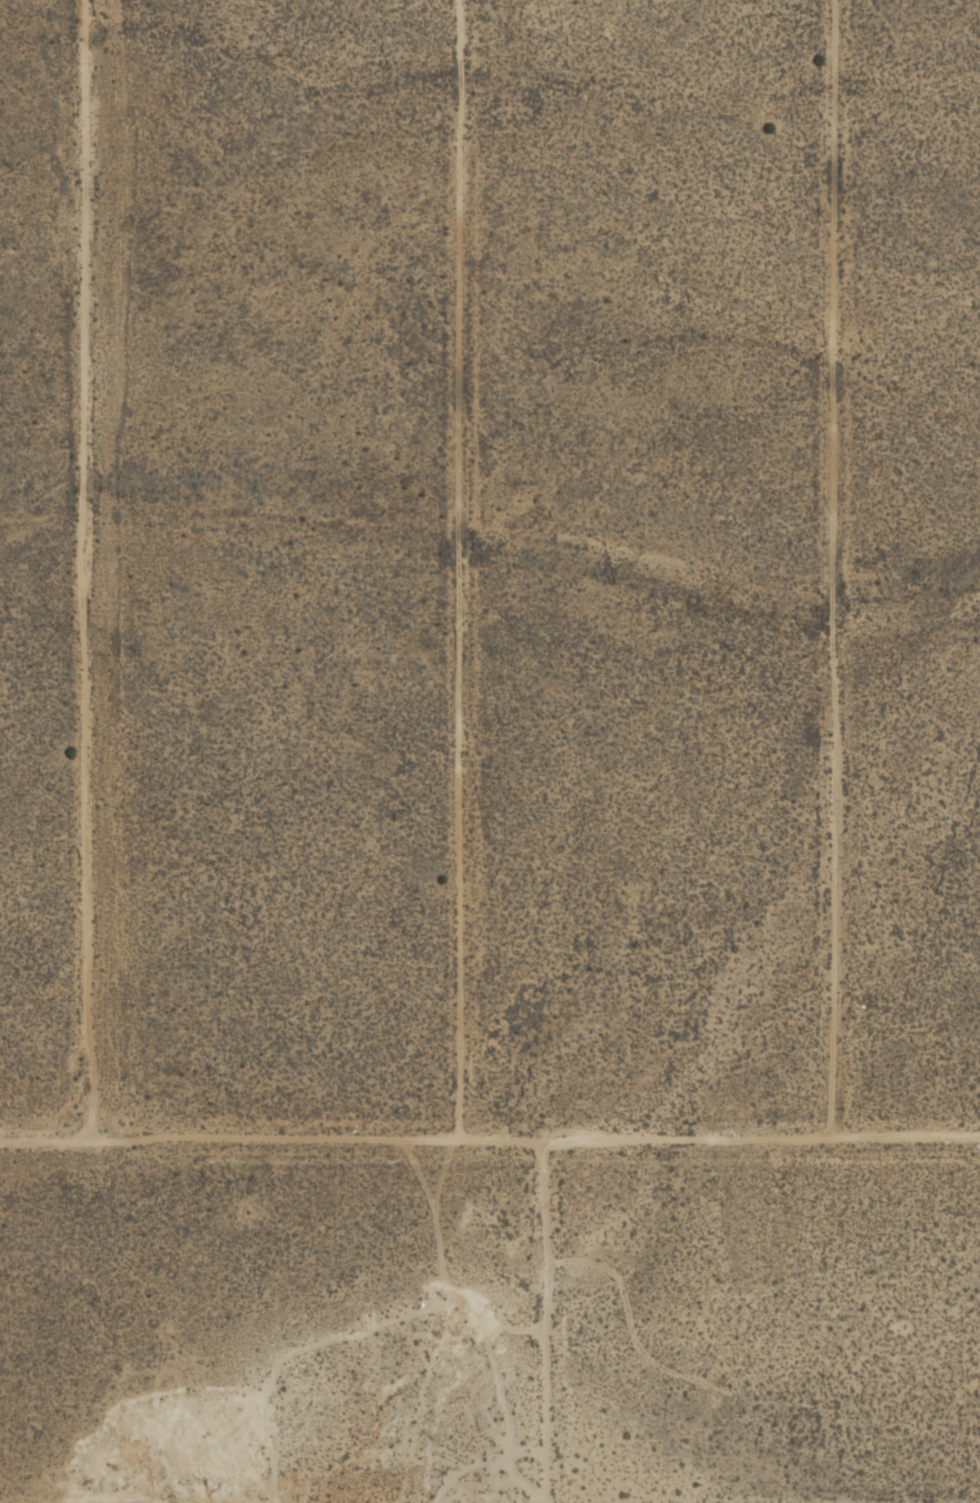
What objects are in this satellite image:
road: (490, 1145)

